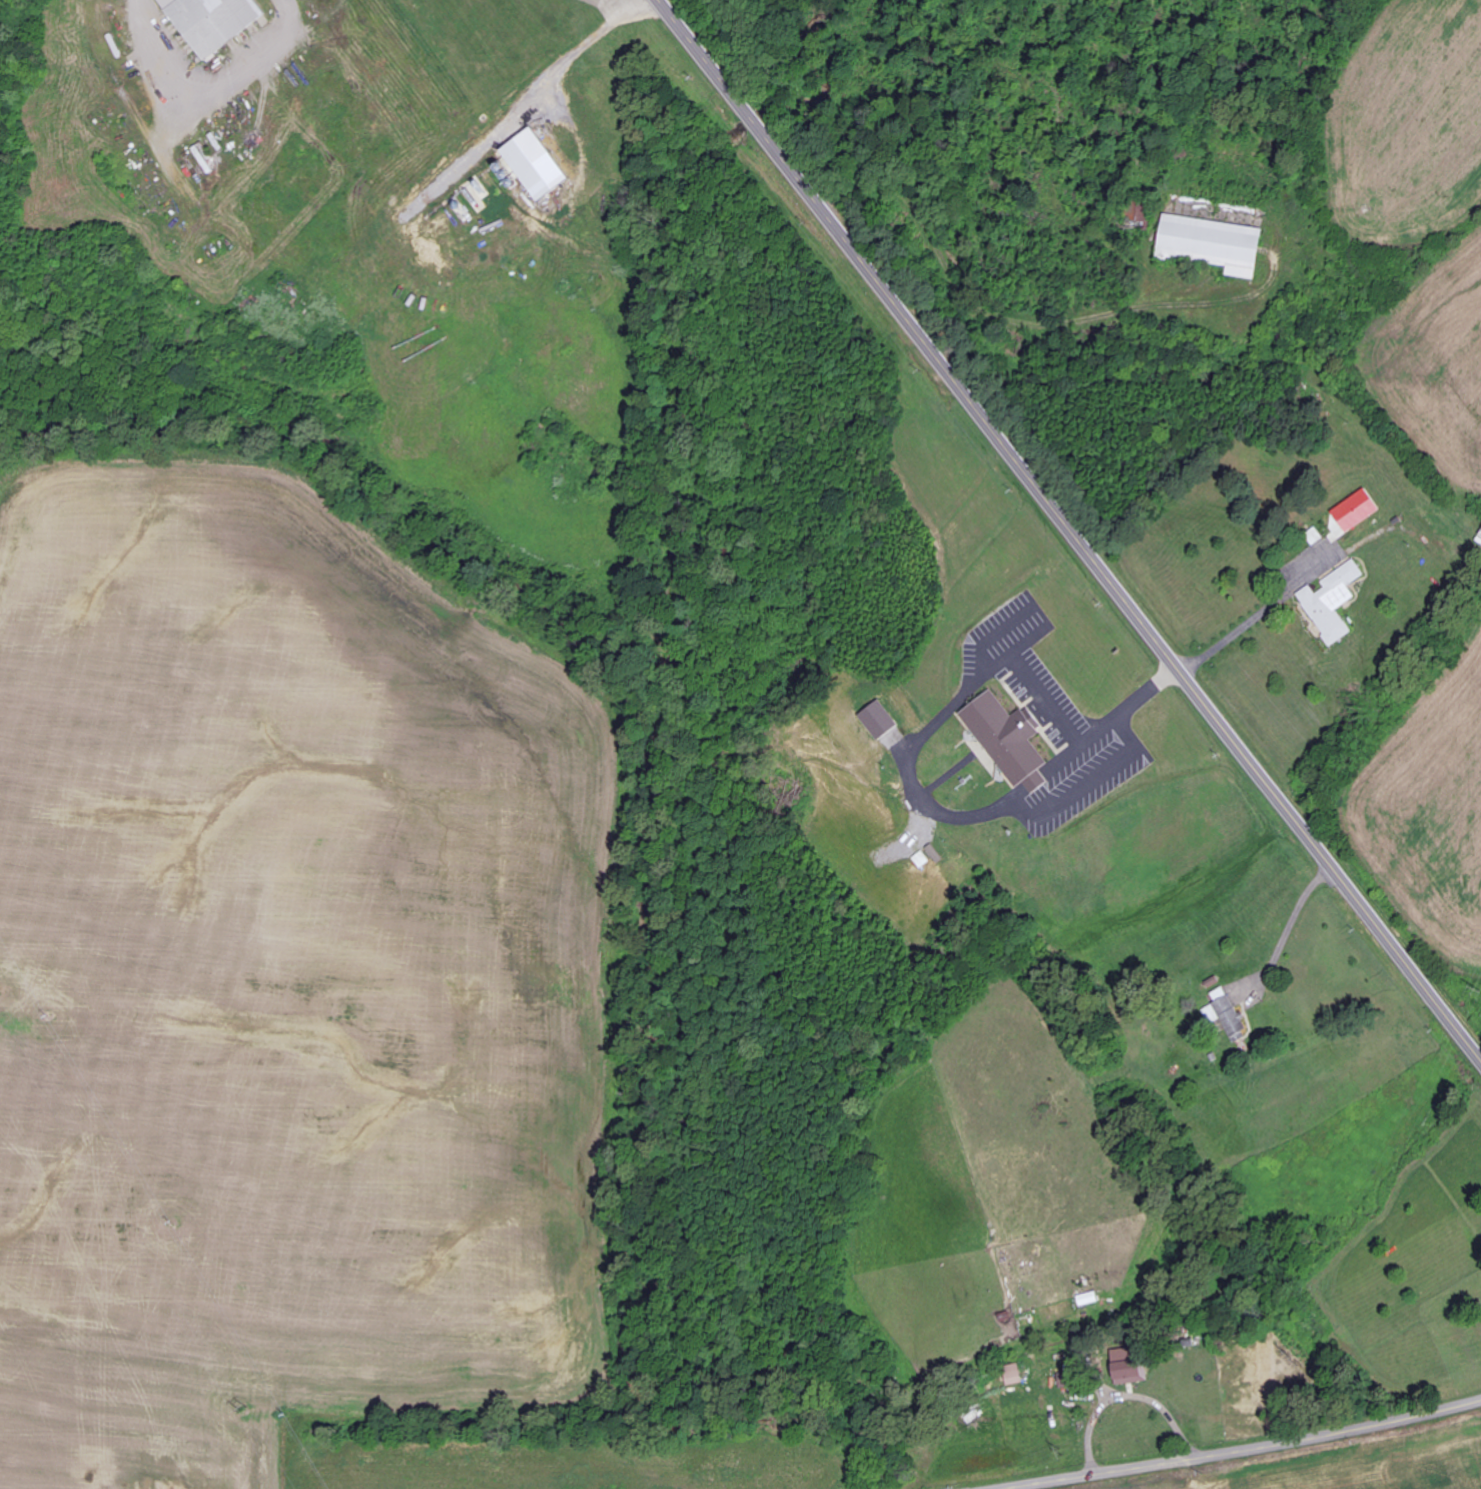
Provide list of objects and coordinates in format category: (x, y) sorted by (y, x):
building: (212, 22)
building: (534, 163)
building: (1139, 211)
building: (1212, 243)
road: (978, 311)
road: (1047, 496)
building: (1356, 510)
building: (1332, 602)
building: (877, 720)
building: (1008, 740)
building: (1225, 1013)
road: (1457, 1024)
building: (1127, 1368)
building: (1013, 1375)
building: (1065, 1381)
road: (1231, 1449)

